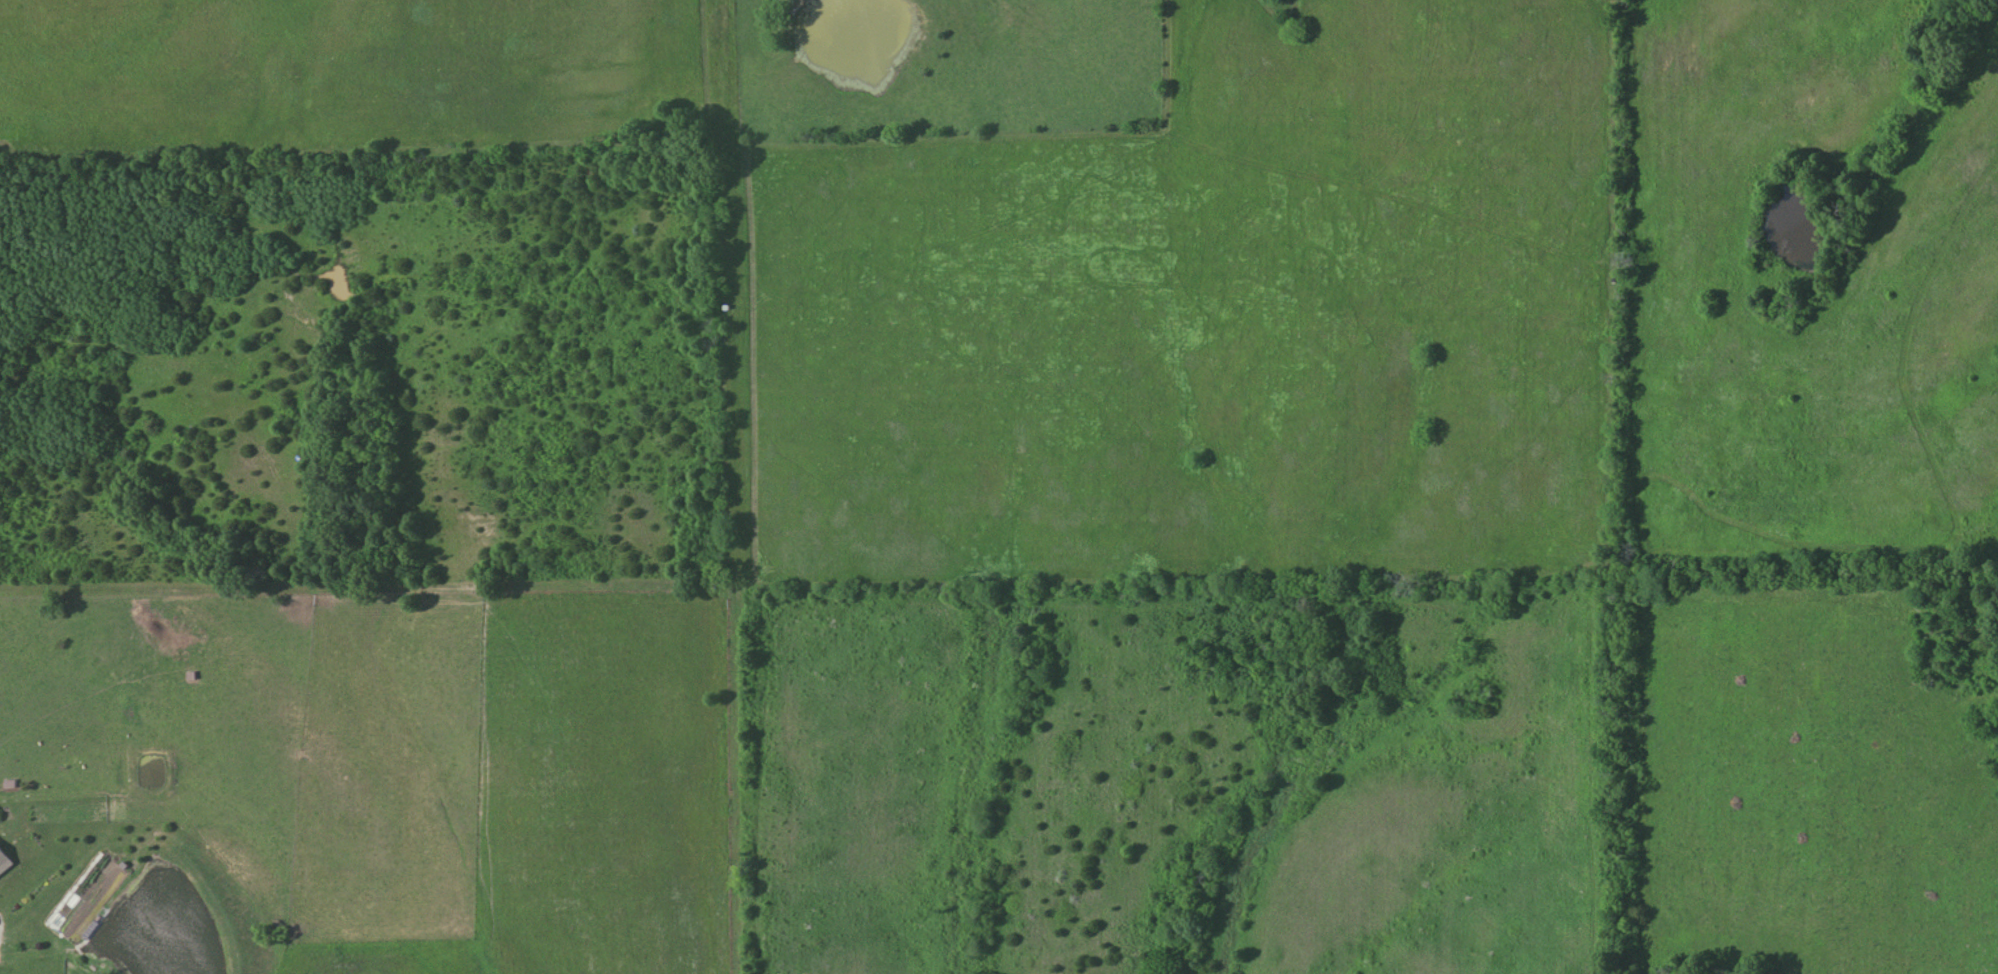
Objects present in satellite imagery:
building: (4, 862)

